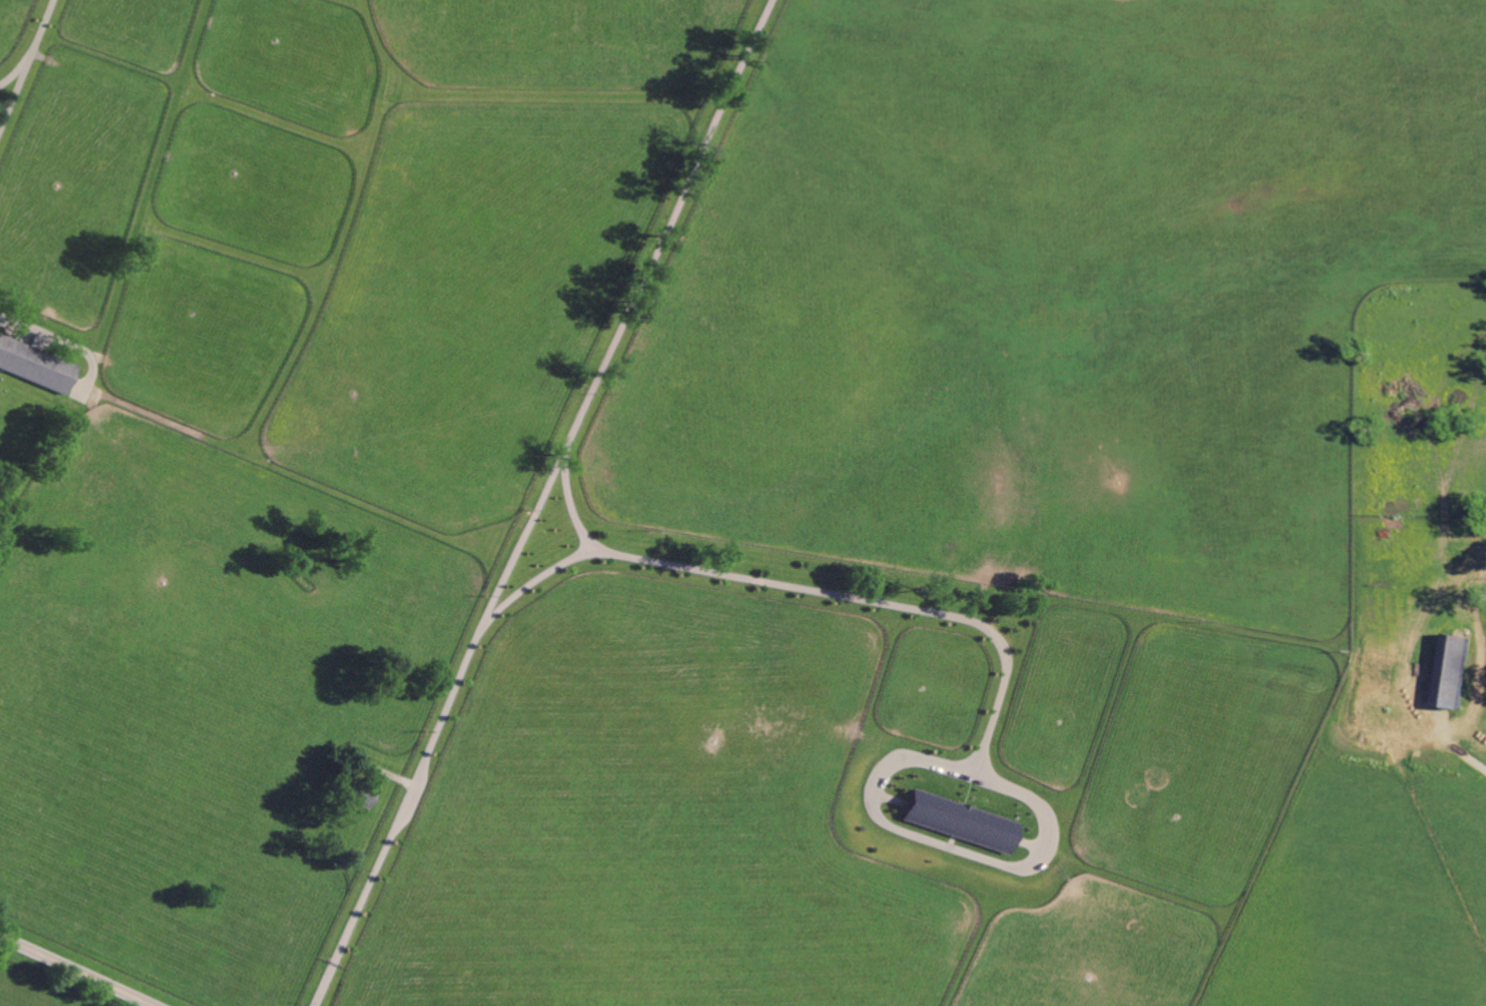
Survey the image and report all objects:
road: (27, 65)
road: (14, 73)
road: (72, 102)
building: (36, 364)
road: (541, 501)
road: (572, 509)
road: (809, 588)
building: (1444, 655)
building: (1461, 670)
building: (961, 821)
road: (77, 970)

